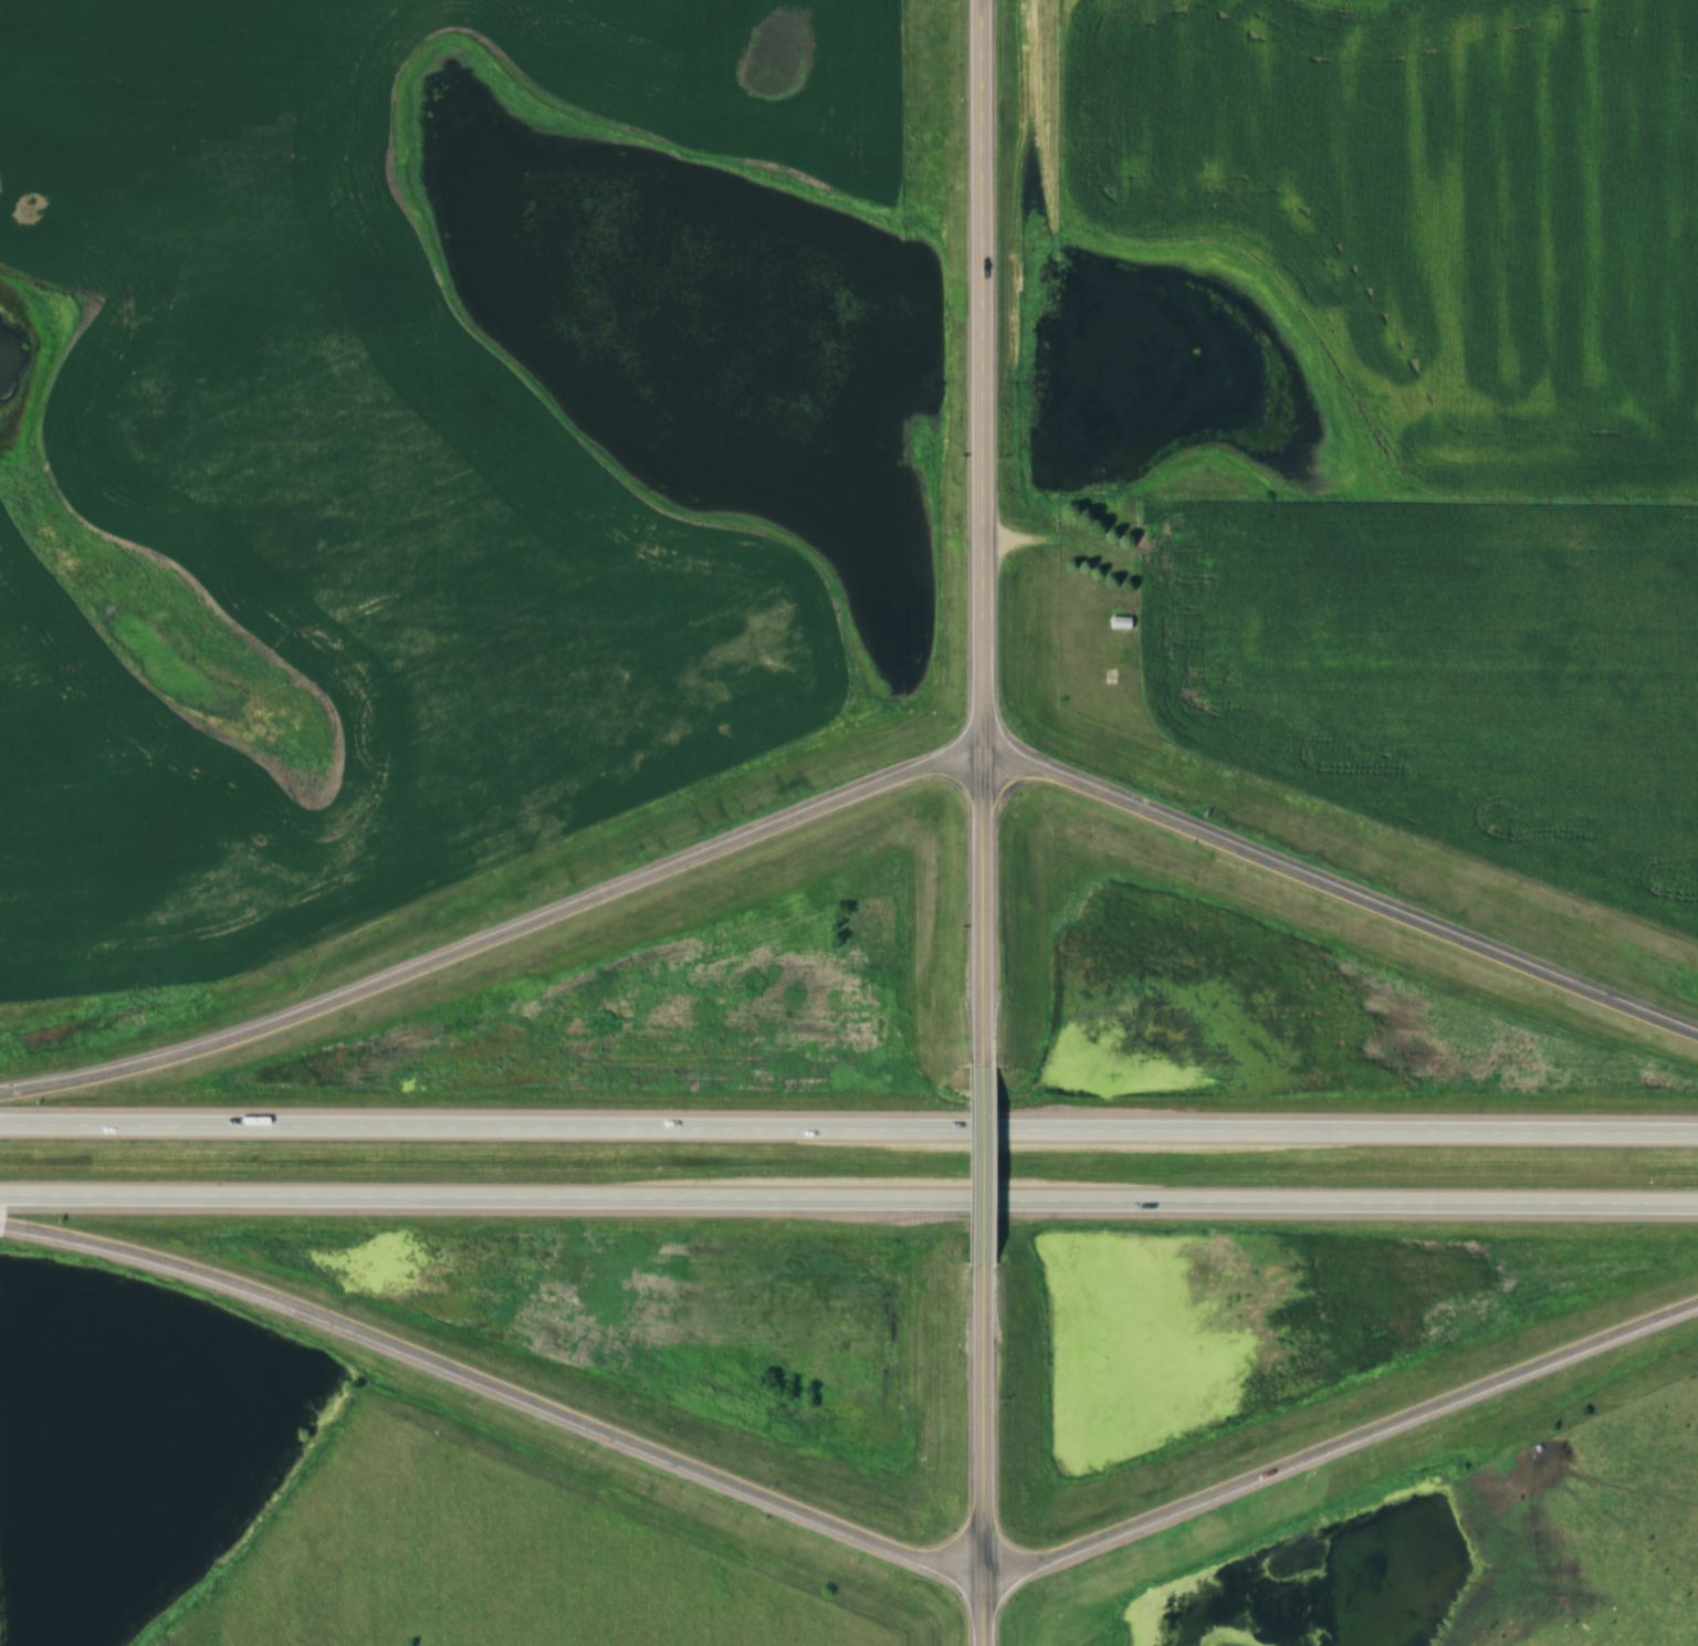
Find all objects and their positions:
road: (981, 533)
building: (1119, 622)
crop: (1447, 675)
road: (1340, 890)
road: (493, 932)
road: (849, 1126)
road: (979, 1164)
road: (849, 1198)
road: (494, 1386)
road: (1340, 1440)
road: (981, 1454)

